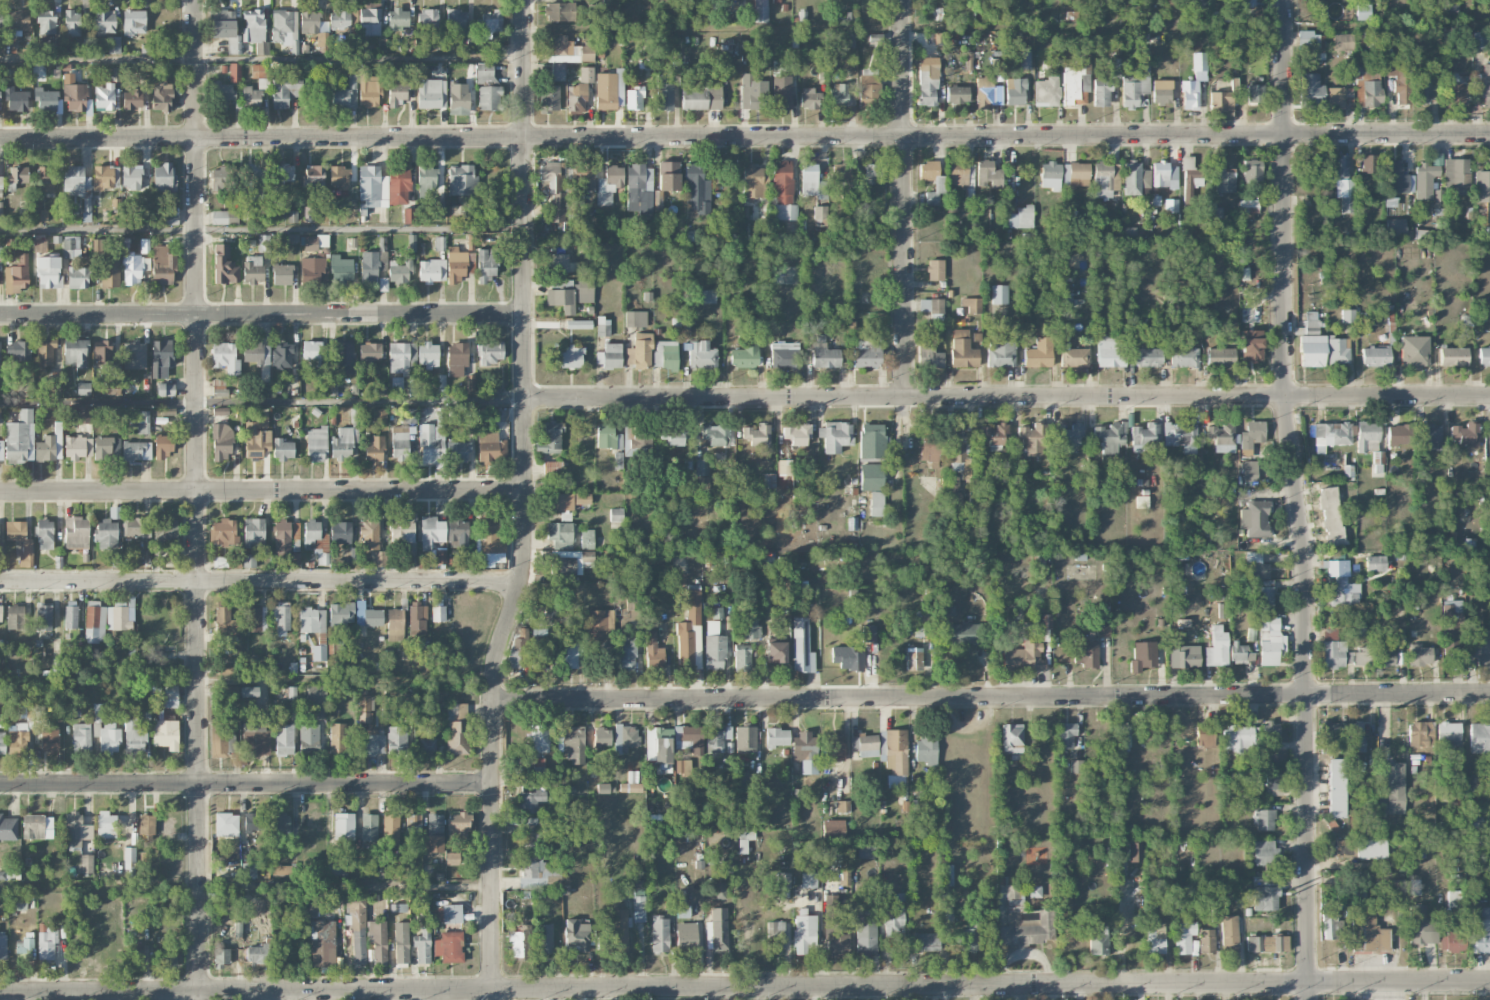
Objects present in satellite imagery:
building: (609, 3)
building: (1197, 3)
building: (1451, 5)
building: (560, 11)
building: (760, 11)
building: (1363, 11)
building: (342, 18)
building: (397, 18)
building: (427, 18)
building: (0, 19)
building: (18, 20)
building: (455, 20)
building: (492, 20)
building: (104, 21)
building: (309, 21)
building: (369, 21)
building: (46, 22)
building: (134, 22)
building: (72, 23)
building: (253, 25)
building: (284, 27)
building: (224, 28)
building: (1370, 35)
building: (1141, 37)
building: (1479, 40)
building: (322, 41)
building: (1343, 42)
building: (1312, 43)
building: (114, 44)
building: (569, 50)
building: (1025, 59)
building: (1199, 63)
building: (1114, 67)
building: (259, 70)
building: (235, 72)
building: (557, 72)
building: (1076, 80)
building: (1136, 81)
building: (1484, 82)
building: (487, 86)
building: (869, 86)
building: (927, 87)
building: (1423, 87)
building: (285, 90)
building: (369, 90)
building: (609, 90)
building: (1400, 90)
building: (1455, 90)
building: (579, 91)
building: (1015, 91)
building: (1161, 91)
building: (1310, 91)
building: (1367, 91)
building: (222, 92)
building: (752, 92)
building: (781, 92)
building: (1046, 92)
building: (1101, 92)
building: (74, 93)
building: (431, 93)
building: (664, 93)
building: (987, 93)
building: (1255, 93)
building: (345, 94)
building: (396, 94)
building: (957, 94)
building: (839, 95)
building: (1190, 95)
building: (104, 96)
building: (161, 96)
building: (250, 97)
building: (132, 98)
building: (458, 98)
building: (549, 98)
building: (634, 98)
building: (702, 98)
building: (810, 98)
building: (1223, 98)
building: (1339, 98)
building: (16, 99)
building: (45, 99)
road: (745, 137)
building: (1368, 163)
building: (1341, 166)
building: (1252, 170)
building: (844, 172)
building: (958, 172)
building: (873, 173)
building: (281, 174)
building: (987, 174)
building: (1065, 174)
building: (1078, 174)
building: (1163, 174)
building: (1456, 174)
building: (584, 175)
building: (668, 175)
building: (1050, 175)
building: (17, 176)
building: (131, 176)
building: (106, 177)
building: (163, 177)
building: (312, 177)
building: (339, 177)
building: (221, 178)
building: (1134, 178)
building: (1399, 178)
building: (46, 179)
building: (1189, 179)
building: (425, 180)
building: (461, 180)
building: (1103, 180)
building: (1425, 180)
building: (75, 181)
building: (755, 181)
building: (1225, 181)
building: (812, 182)
building: (253, 183)
building: (398, 184)
building: (609, 184)
building: (1482, 184)
building: (939, 185)
building: (1, 187)
building: (372, 187)
building: (555, 187)
building: (639, 188)
building: (697, 189)
building: (783, 192)
building: (1345, 194)
building: (1438, 198)
road: (905, 199)
building: (1171, 205)
building: (86, 209)
building: (438, 209)
building: (1248, 210)
building: (1215, 212)
building: (310, 214)
building: (292, 215)
building: (820, 215)
building: (408, 216)
building: (224, 217)
building: (1021, 217)
building: (170, 218)
road: (361, 226)
building: (1395, 228)
road: (98, 229)
building: (314, 242)
building: (263, 243)
building: (40, 245)
building: (99, 246)
building: (71, 248)
building: (559, 262)
building: (486, 264)
building: (162, 265)
building: (224, 265)
building: (455, 265)
building: (369, 267)
building: (341, 268)
building: (253, 269)
building: (312, 269)
building: (935, 269)
building: (132, 270)
building: (432, 270)
building: (48, 272)
building: (109, 272)
building: (399, 272)
building: (282, 274)
building: (16, 275)
building: (78, 277)
building: (585, 291)
building: (999, 294)
building: (562, 296)
building: (706, 296)
building: (1064, 300)
building: (972, 305)
building: (932, 307)
road: (263, 315)
building: (1348, 315)
building: (635, 319)
building: (1310, 322)
building: (603, 327)
building: (1251, 345)
building: (0, 348)
building: (962, 349)
building: (1110, 349)
building: (18, 350)
building: (370, 351)
building: (639, 351)
building: (1312, 351)
building: (1337, 351)
building: (46, 352)
building: (76, 352)
building: (255, 352)
building: (312, 352)
building: (490, 352)
building: (1414, 352)
building: (1039, 353)
building: (102, 354)
building: (134, 354)
building: (282, 354)
building: (427, 354)
building: (701, 354)
building: (866, 354)
building: (1000, 354)
building: (341, 355)
building: (610, 355)
building: (665, 355)
building: (784, 355)
building: (824, 355)
building: (928, 355)
building: (1147, 355)
building: (744, 356)
building: (1375, 356)
building: (1453, 356)
building: (1484, 356)
building: (161, 357)
building: (225, 357)
building: (572, 357)
building: (1073, 357)
building: (1183, 357)
building: (1220, 357)
building: (457, 358)
building: (402, 360)
building: (54, 377)
building: (397, 382)
building: (470, 383)
building: (218, 387)
building: (165, 389)
road: (1008, 399)
road: (262, 400)
building: (167, 411)
building: (220, 411)
building: (82, 414)
building: (380, 415)
building: (409, 415)
building: (143, 422)
building: (1465, 433)
building: (715, 434)
building: (757, 434)
building: (796, 434)
building: (995, 435)
building: (1332, 435)
building: (1398, 435)
building: (675, 436)
building: (835, 436)
building: (1067, 436)
building: (1181, 436)
building: (1367, 436)
building: (1428, 436)
building: (20, 437)
building: (257, 437)
building: (607, 437)
building: (1224, 437)
building: (1251, 437)
building: (550, 438)
building: (1145, 438)
building: (1032, 439)
building: (1110, 440)
building: (872, 441)
building: (221, 442)
building: (317, 444)
building: (343, 444)
building: (431, 444)
building: (632, 444)
building: (50, 445)
building: (399, 445)
building: (163, 446)
building: (77, 447)
building: (490, 447)
building: (107, 448)
building: (1, 449)
building: (282, 449)
building: (373, 449)
building: (932, 449)
building: (136, 450)
building: (459, 451)
building: (959, 451)
building: (1378, 458)
building: (701, 467)
building: (784, 467)
building: (552, 469)
building: (1250, 471)
building: (871, 477)
building: (769, 480)
building: (703, 484)
road: (262, 493)
road: (1298, 499)
road: (198, 500)
building: (567, 500)
road: (525, 502)
building: (876, 503)
building: (616, 515)
building: (1331, 516)
building: (1257, 518)
building: (135, 527)
building: (402, 529)
building: (223, 531)
building: (76, 532)
building: (253, 532)
building: (340, 532)
building: (431, 532)
building: (457, 532)
building: (560, 532)
building: (163, 533)
building: (44, 534)
building: (107, 534)
building: (312, 534)
building: (369, 534)
building: (491, 537)
building: (282, 538)
building: (587, 539)
building: (21, 541)
building: (379, 558)
building: (249, 560)
building: (220, 562)
building: (571, 562)
building: (1375, 563)
building: (1255, 566)
road: (259, 582)
building: (1341, 584)
building: (1266, 598)
building: (950, 610)
building: (1222, 610)
building: (1098, 612)
building: (438, 613)
building: (71, 614)
building: (0, 615)
building: (367, 615)
building: (43, 616)
building: (340, 616)
building: (16, 617)
building: (118, 618)
building: (255, 618)
building: (280, 618)
building: (417, 618)
building: (312, 620)
building: (95, 622)
building: (224, 622)
building: (395, 624)
building: (597, 624)
building: (1045, 626)
building: (751, 628)
building: (1103, 629)
building: (1452, 630)
building: (690, 633)
building: (868, 633)
building: (961, 633)
building: (1270, 641)
building: (802, 646)
building: (1216, 647)
building: (1480, 647)
building: (1332, 649)
building: (540, 651)
building: (653, 651)
building: (319, 652)
building: (714, 652)
building: (775, 652)
building: (1085, 652)
building: (1240, 652)
building: (518, 653)
building: (626, 654)
building: (1386, 654)
building: (1419, 654)
building: (568, 655)
building: (1143, 656)
building: (1184, 656)
building: (1359, 656)
building: (847, 658)
building: (914, 658)
building: (1023, 658)
building: (742, 660)
building: (226, 671)
building: (249, 691)
building: (228, 694)
road: (1398, 694)
building: (171, 696)
road: (900, 698)
building: (317, 700)
building: (406, 702)
building: (364, 708)
building: (25, 709)
building: (72, 712)
building: (456, 728)
building: (1270, 732)
building: (166, 734)
building: (1420, 734)
building: (1448, 734)
building: (1066, 735)
building: (1122, 735)
building: (1205, 735)
building: (107, 736)
building: (1145, 736)
building: (1356, 736)
building: (17, 737)
building: (82, 737)
building: (134, 737)
building: (602, 737)
building: (625, 737)
building: (776, 737)
building: (1329, 737)
building: (1479, 737)
building: (50, 738)
building: (255, 738)
building: (337, 738)
building: (539, 738)
building: (688, 738)
building: (1012, 738)
building: (1240, 738)
building: (284, 739)
building: (718, 739)
building: (745, 740)
building: (219, 741)
building: (396, 741)
building: (2, 742)
building: (370, 743)
building: (573, 744)
building: (659, 744)
building: (427, 745)
building: (865, 745)
building: (308, 746)
building: (834, 746)
building: (926, 750)
building: (805, 751)
building: (894, 756)
building: (682, 767)
building: (1274, 780)
road: (246, 783)
building: (842, 785)
building: (630, 787)
building: (1391, 787)
building: (602, 788)
building: (1337, 788)
building: (531, 801)
building: (842, 806)
building: (1263, 819)
building: (254, 822)
building: (279, 823)
building: (413, 823)
building: (458, 823)
building: (226, 824)
building: (390, 824)
building: (106, 825)
building: (37, 826)
building: (147, 826)
building: (343, 826)
building: (368, 827)
building: (833, 828)
building: (8, 829)
building: (76, 829)
building: (533, 832)
building: (435, 833)
building: (745, 839)
building: (1342, 848)
building: (1370, 848)
building: (833, 851)
building: (864, 852)
building: (1135, 852)
building: (1265, 852)
building: (452, 858)
building: (129, 862)
building: (86, 863)
building: (338, 868)
building: (249, 869)
building: (283, 870)
building: (531, 871)
building: (946, 876)
building: (845, 877)
building: (783, 880)
building: (809, 880)
building: (1398, 885)
building: (1414, 887)
building: (720, 894)
building: (1265, 898)
building: (1452, 898)
building: (18, 903)
building: (638, 908)
building: (683, 911)
building: (449, 914)
building: (947, 914)
building: (894, 920)
building: (1023, 921)
building: (1331, 925)
building: (357, 926)
building: (1421, 926)
building: (237, 929)
building: (618, 930)
building: (717, 930)
building: (804, 931)
building: (866, 933)
building: (1229, 933)
building: (660, 934)
building: (1368, 934)
building: (686, 935)
building: (776, 935)
building: (577, 936)
building: (1183, 936)
building: (969, 937)
building: (1098, 937)
building: (1155, 937)
building: (544, 938)
building: (837, 939)
building: (377, 940)
building: (423, 940)
building: (520, 941)
building: (926, 941)
building: (1206, 941)
building: (1451, 941)
building: (46, 942)
building: (401, 942)
building: (322, 943)
building: (1266, 943)
building: (24, 946)
building: (449, 946)
building: (3, 948)
building: (135, 952)
building: (257, 954)
building: (221, 955)
building: (168, 957)
road: (745, 987)

